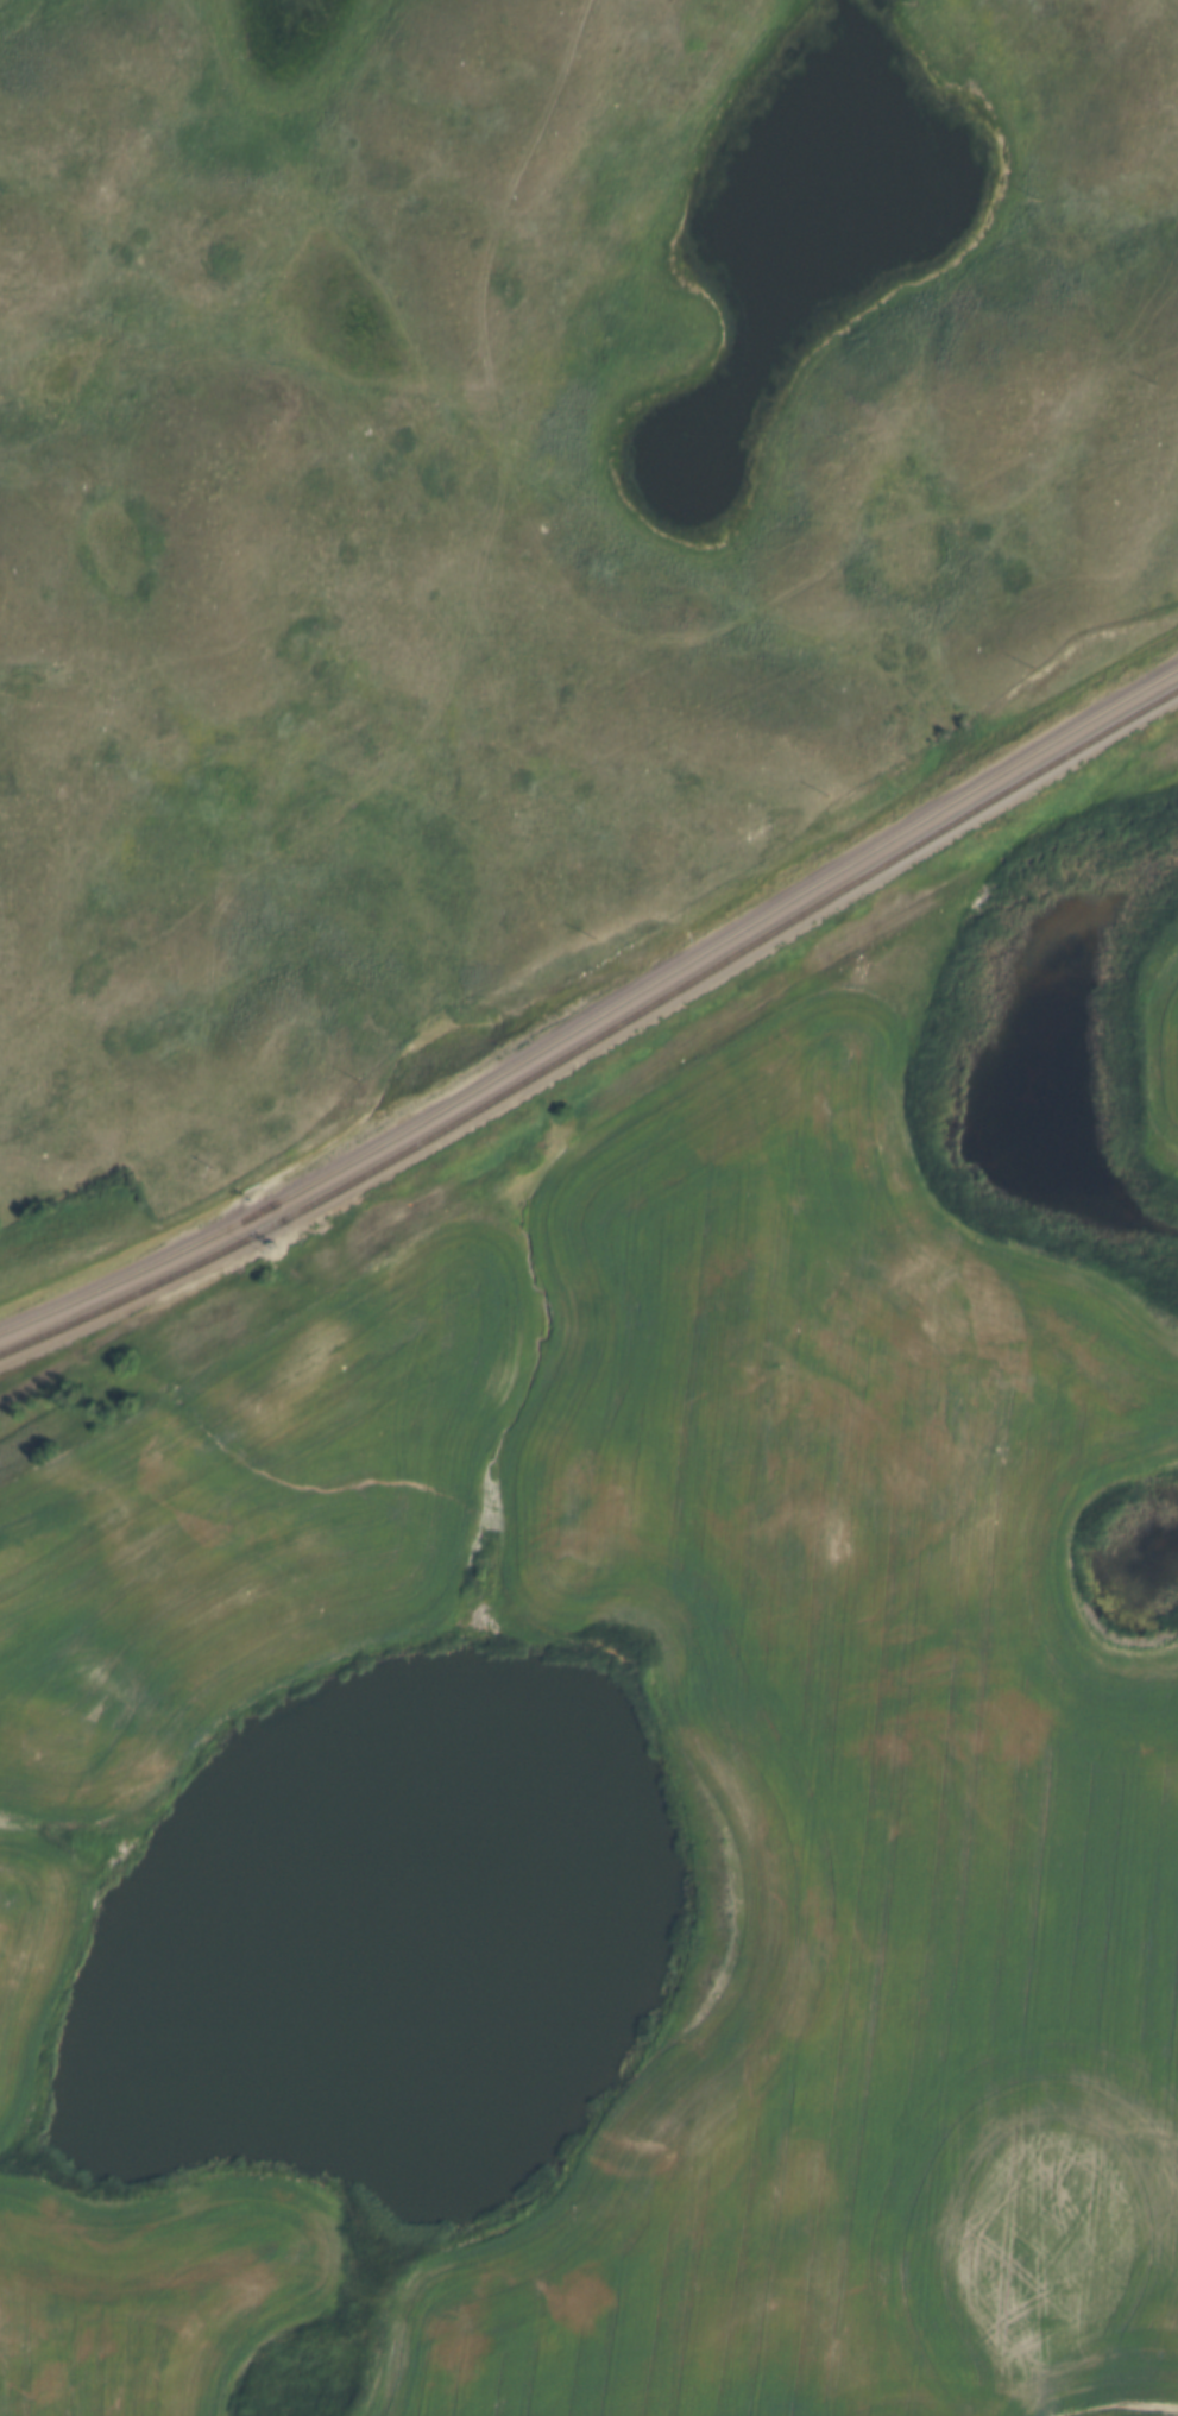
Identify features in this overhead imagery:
road: (552, 656)
railway: (594, 1001)
railway: (596, 1035)

